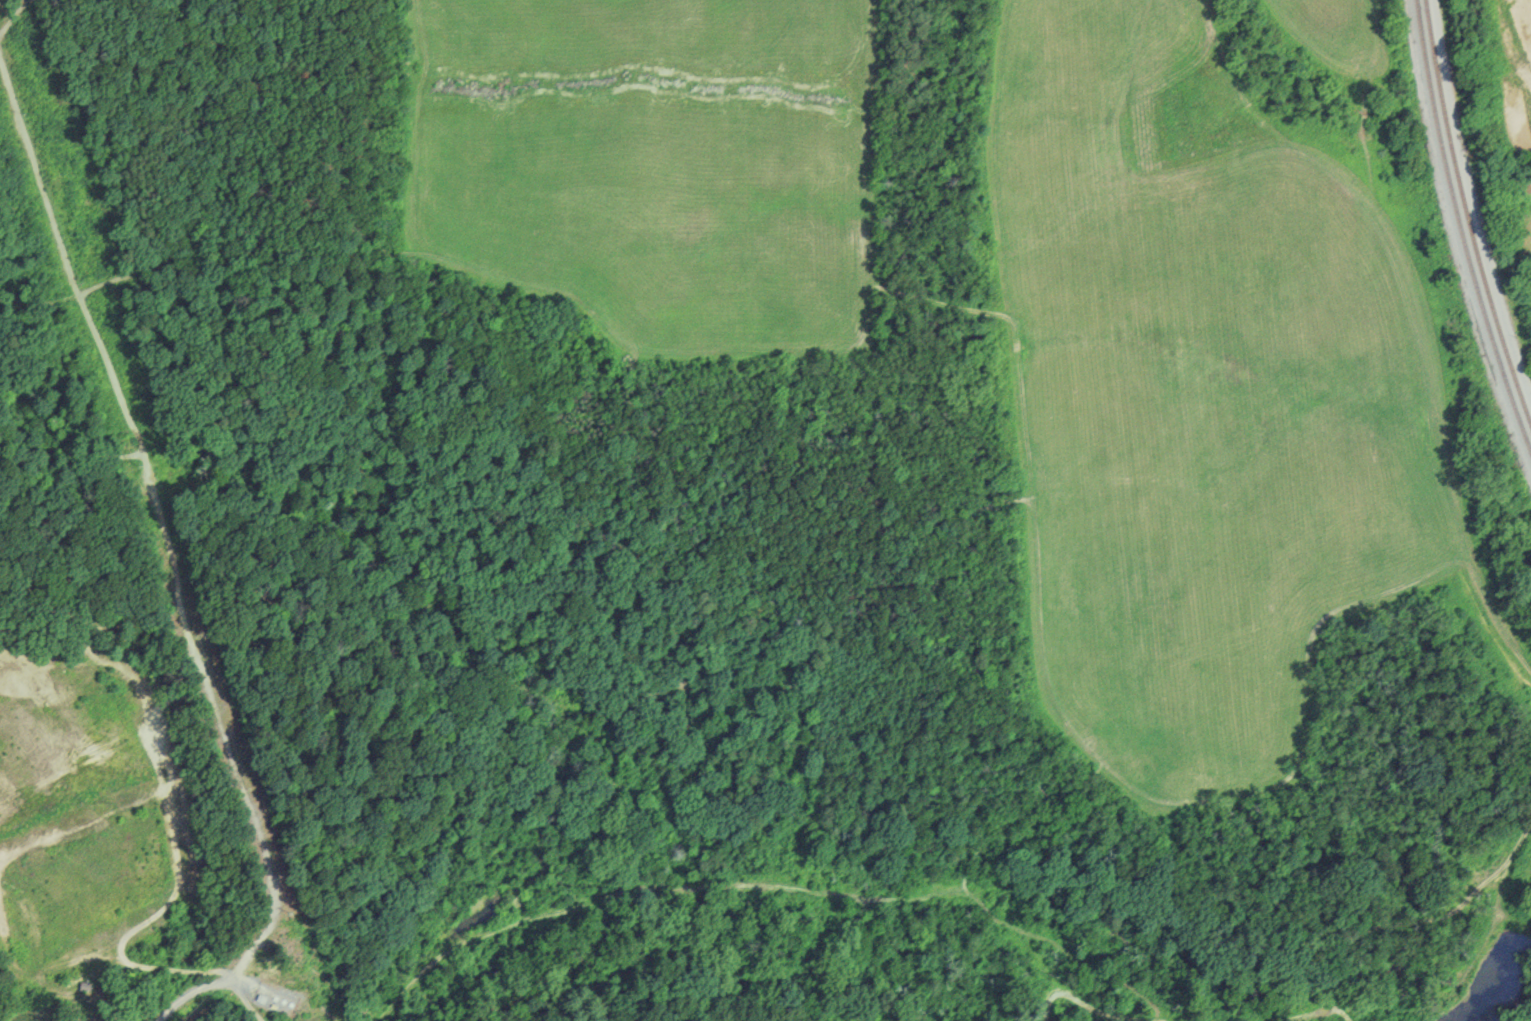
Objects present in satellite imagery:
railway: (1467, 212)
railway: (1461, 227)
road: (177, 547)

